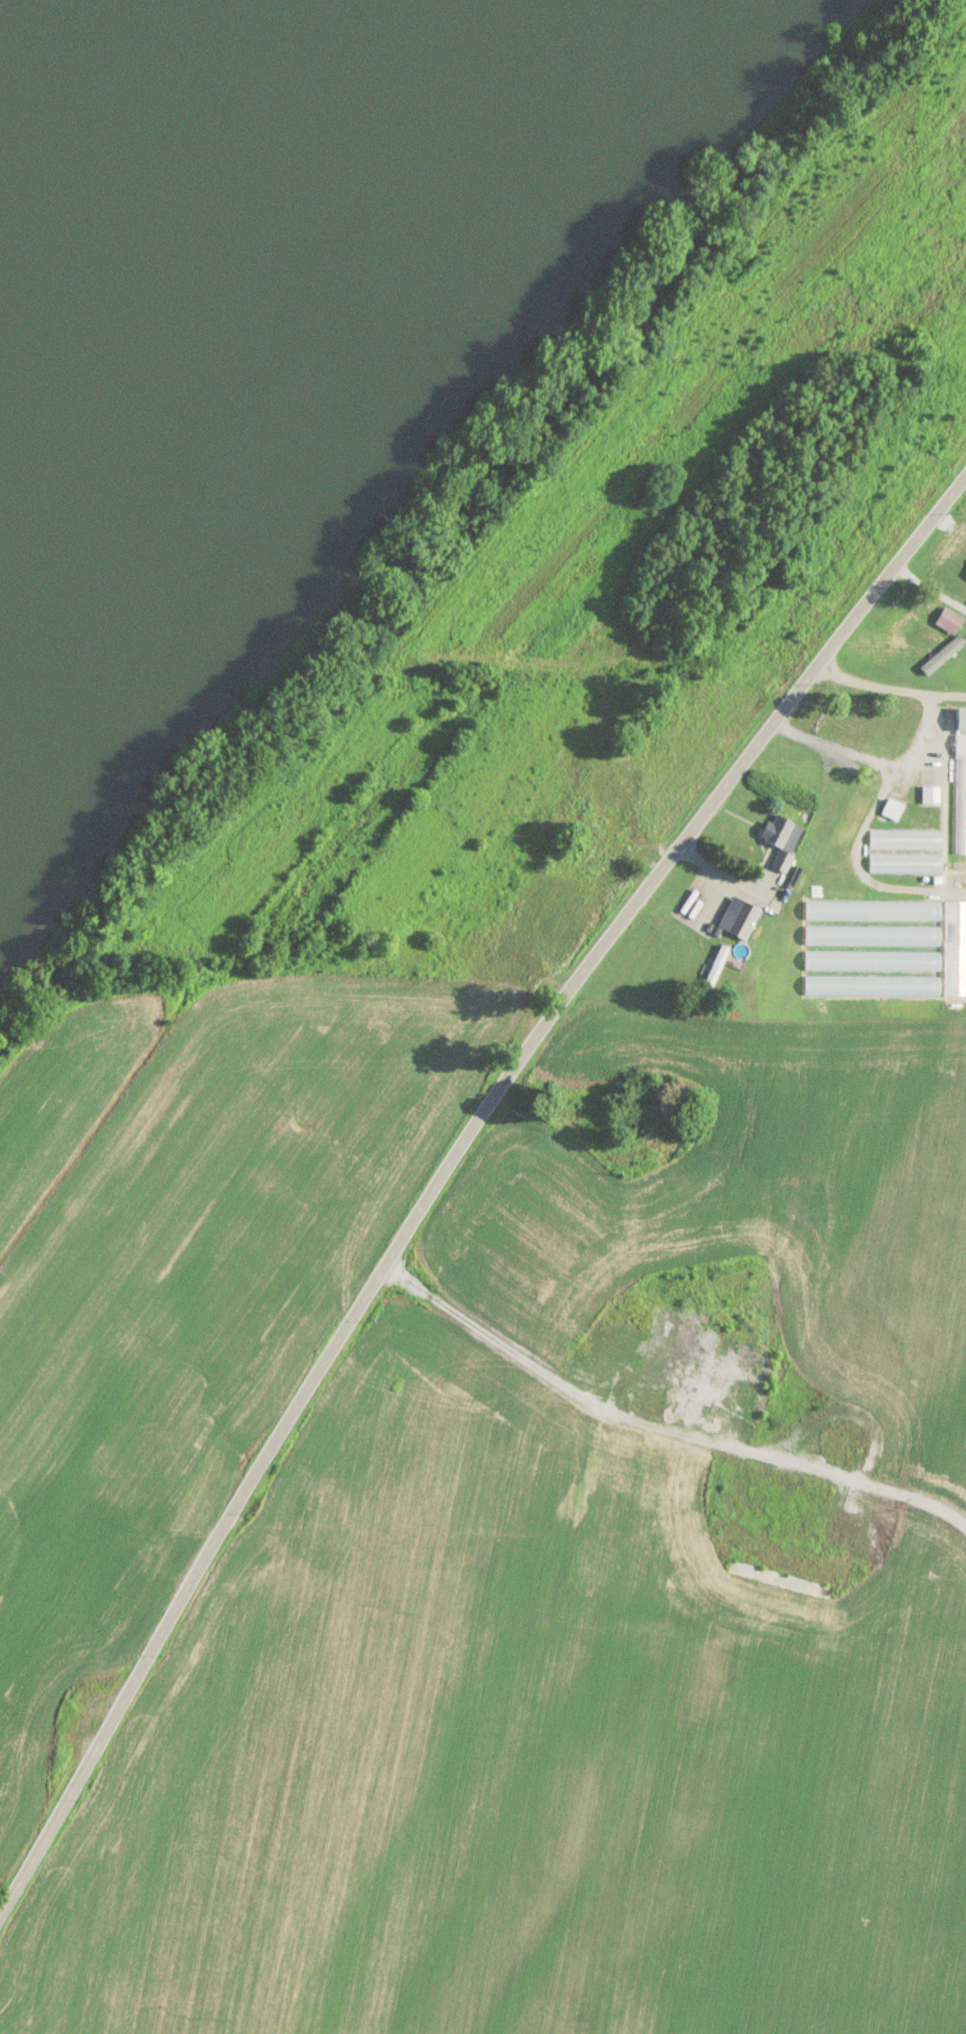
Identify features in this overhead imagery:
river: (123, 151)
building: (960, 589)
building: (947, 622)
building: (919, 638)
building: (961, 721)
building: (854, 722)
building: (960, 746)
building: (929, 796)
building: (612, 800)
building: (858, 800)
building: (959, 807)
building: (891, 810)
building: (905, 840)
building: (782, 845)
building: (592, 862)
building: (904, 864)
building: (870, 912)
building: (737, 919)
building: (870, 937)
building: (954, 950)
building: (491, 952)
building: (870, 962)
building: (870, 987)
road: (459, 1178)
crop: (535, 1201)

